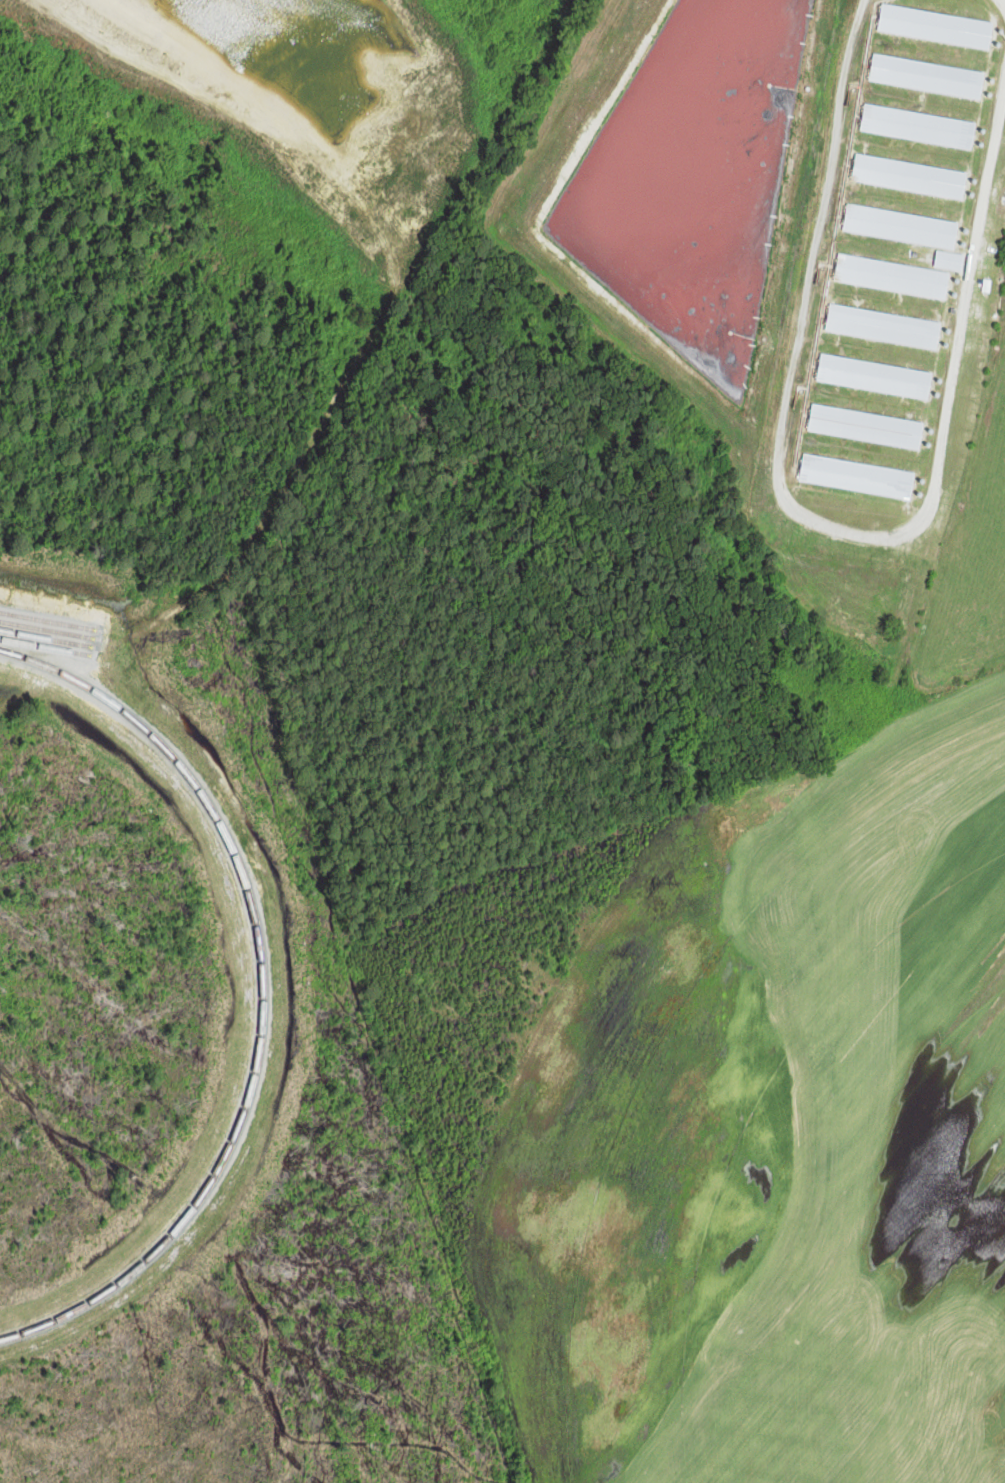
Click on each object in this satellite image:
road: (1003, 2)
building: (936, 26)
building: (927, 75)
building: (919, 126)
building: (910, 176)
building: (901, 226)
building: (950, 260)
building: (892, 275)
building: (883, 326)
building: (875, 376)
building: (866, 426)
building: (856, 476)
road: (823, 524)

